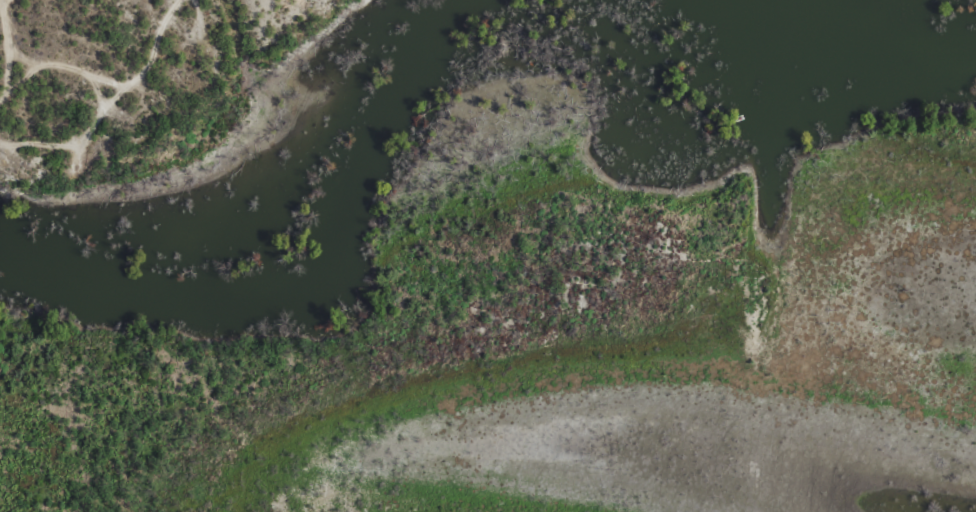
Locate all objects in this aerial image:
river: (871, 31)
river: (290, 270)

